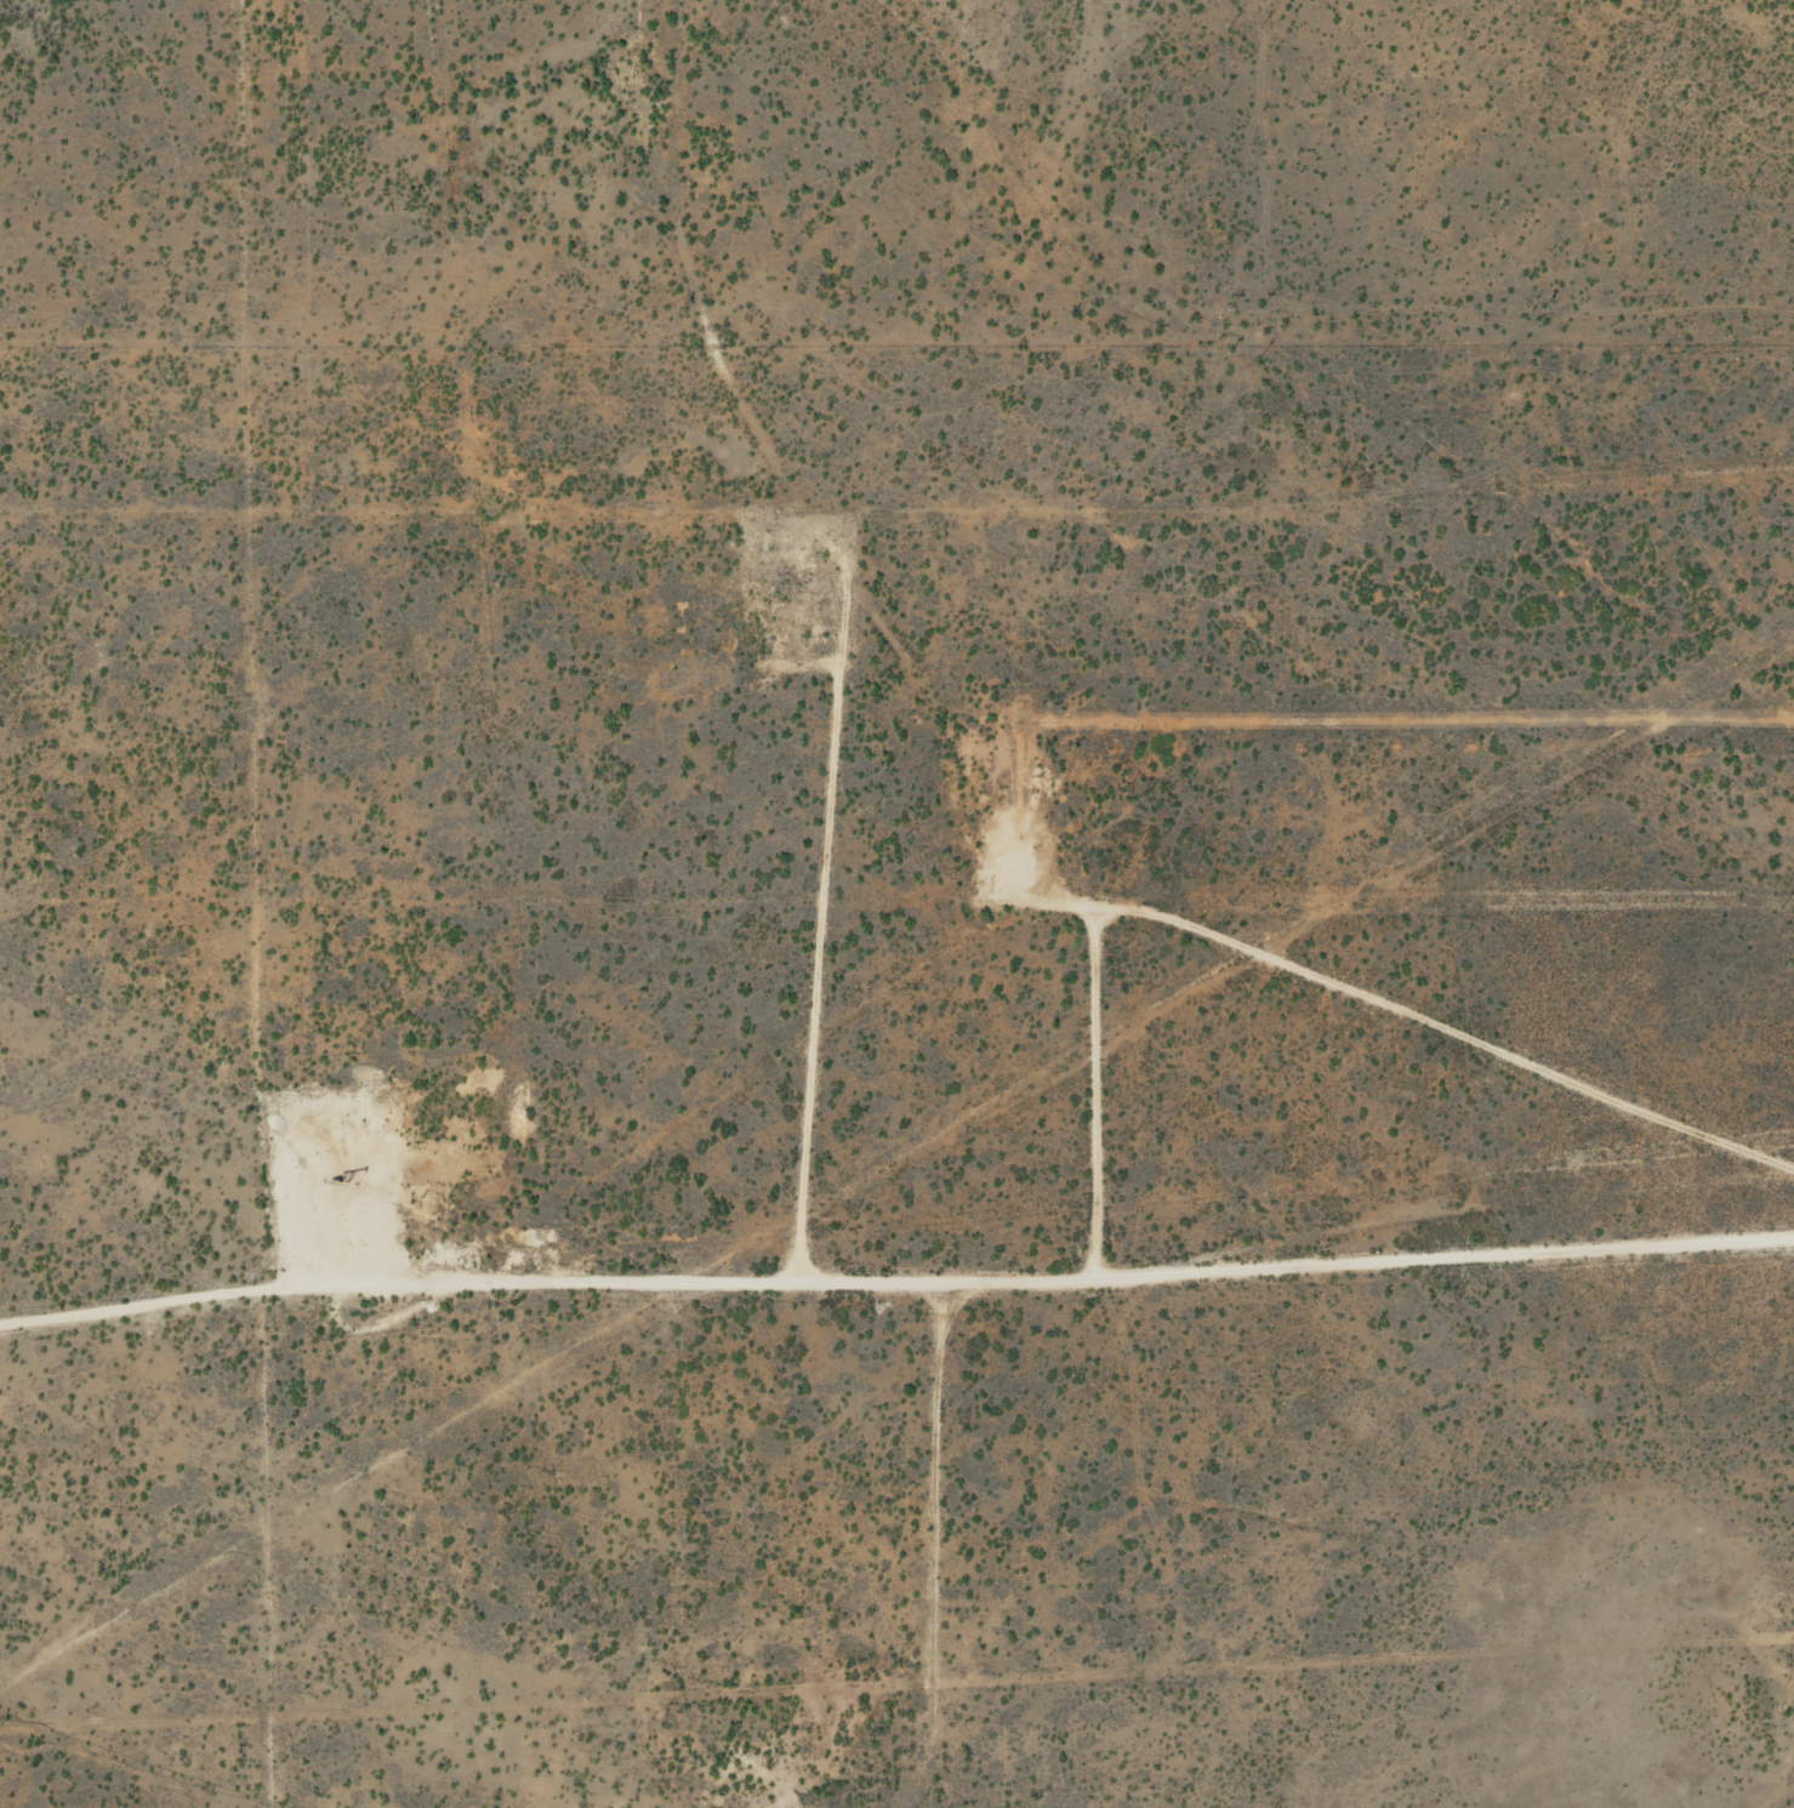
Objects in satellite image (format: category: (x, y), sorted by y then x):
road: (992, 838)
road: (1103, 1088)
road: (888, 1290)
road: (905, 1549)

